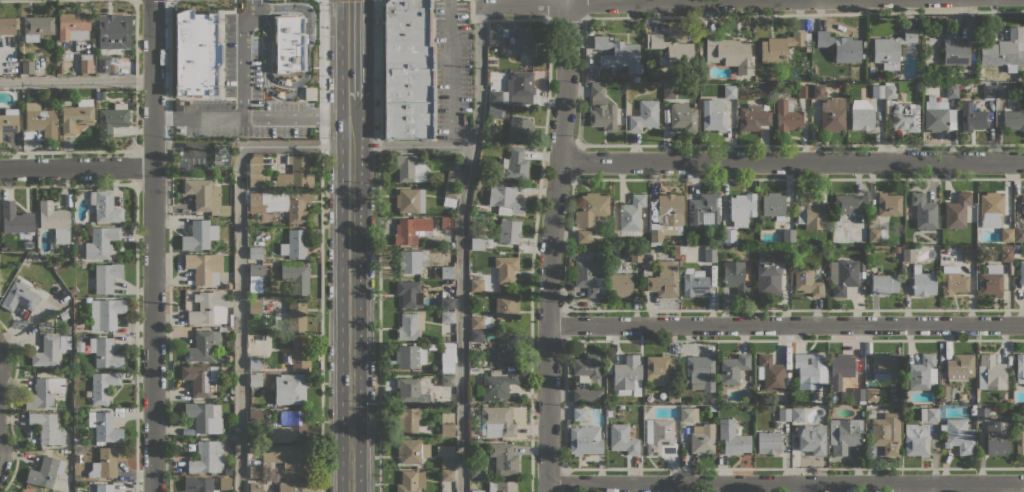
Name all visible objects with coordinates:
road: (9, 0)
road: (672, 3)
road: (472, 5)
building: (304, 18)
building: (7, 25)
building: (73, 25)
building: (37, 27)
building: (113, 30)
building: (513, 38)
road: (135, 39)
building: (288, 43)
building: (781, 46)
building: (839, 46)
building: (953, 48)
road: (350, 49)
building: (890, 49)
building: (671, 50)
building: (1005, 50)
building: (303, 52)
building: (729, 52)
building: (195, 53)
building: (618, 53)
road: (242, 56)
road: (168, 58)
building: (86, 63)
building: (103, 65)
building: (27, 66)
building: (59, 69)
road: (306, 70)
building: (407, 70)
road: (450, 72)
road: (76, 80)
building: (521, 83)
building: (951, 89)
building: (668, 90)
building: (988, 90)
building: (729, 91)
building: (803, 91)
building: (817, 91)
building: (877, 91)
building: (1000, 91)
building: (309, 92)
building: (101, 95)
road: (276, 95)
building: (53, 96)
building: (494, 96)
building: (765, 106)
building: (600, 109)
building: (497, 111)
building: (899, 111)
building: (713, 114)
building: (832, 114)
building: (861, 114)
building: (76, 115)
building: (644, 115)
building: (682, 115)
building: (938, 115)
building: (787, 116)
building: (972, 116)
road: (251, 117)
building: (752, 117)
building: (1014, 117)
building: (112, 119)
building: (8, 120)
building: (40, 120)
building: (519, 129)
road: (178, 144)
road: (791, 161)
building: (513, 164)
road: (76, 167)
building: (411, 168)
building: (253, 169)
building: (294, 172)
building: (453, 176)
building: (205, 196)
building: (449, 196)
building: (504, 199)
building: (409, 200)
road: (240, 203)
building: (281, 204)
building: (888, 204)
building: (1022, 204)
building: (773, 205)
building: (848, 205)
building: (103, 207)
building: (590, 208)
building: (741, 208)
building: (706, 209)
building: (990, 210)
building: (923, 211)
building: (958, 211)
building: (809, 212)
building: (631, 215)
building: (667, 217)
building: (16, 221)
building: (55, 221)
building: (446, 222)
building: (411, 230)
building: (509, 231)
building: (876, 234)
building: (199, 235)
building: (728, 235)
building: (788, 235)
building: (1018, 235)
building: (583, 236)
building: (1006, 236)
building: (77, 239)
building: (100, 242)
building: (480, 242)
building: (294, 244)
road: (321, 245)
road: (379, 245)
road: (551, 245)
road: (152, 246)
road: (461, 248)
building: (896, 249)
building: (1015, 249)
building: (254, 252)
building: (676, 252)
building: (710, 253)
building: (1022, 253)
building: (908, 254)
building: (969, 254)
building: (636, 255)
building: (784, 255)
building: (1006, 255)
building: (681, 257)
building: (410, 260)
building: (83, 264)
building: (610, 266)
building: (203, 267)
building: (505, 268)
building: (254, 270)
building: (444, 272)
building: (1021, 274)
building: (296, 275)
building: (106, 276)
building: (841, 276)
building: (735, 277)
building: (588, 278)
building: (767, 278)
building: (664, 279)
building: (952, 280)
building: (990, 280)
building: (807, 281)
building: (922, 281)
building: (694, 282)
building: (478, 284)
building: (884, 284)
building: (619, 285)
building: (1, 287)
building: (72, 290)
building: (409, 294)
road: (350, 295)
building: (20, 296)
building: (446, 303)
building: (255, 306)
building: (506, 306)
building: (208, 308)
building: (104, 312)
building: (63, 315)
building: (296, 316)
building: (446, 317)
building: (480, 321)
building: (408, 326)
road: (786, 326)
building: (224, 328)
building: (476, 336)
building: (202, 346)
building: (505, 350)
building: (46, 351)
building: (101, 352)
building: (447, 353)
building: (296, 354)
building: (409, 356)
building: (254, 361)
building: (959, 366)
building: (446, 367)
building: (586, 367)
building: (885, 367)
building: (732, 368)
building: (1019, 368)
building: (656, 369)
building: (840, 369)
building: (608, 370)
building: (809, 370)
building: (700, 372)
building: (770, 372)
building: (920, 372)
building: (990, 374)
building: (627, 375)
building: (197, 380)
building: (255, 380)
building: (446, 380)
building: (498, 383)
building: (102, 386)
building: (289, 388)
building: (411, 390)
building: (44, 392)
building: (943, 392)
building: (673, 394)
building: (858, 394)
building: (871, 394)
building: (587, 395)
building: (1008, 400)
building: (75, 403)
building: (579, 414)
building: (687, 414)
building: (784, 414)
building: (797, 414)
building: (928, 414)
building: (982, 414)
building: (255, 415)
building: (204, 416)
building: (408, 419)
building: (497, 421)
building: (447, 424)
building: (104, 427)
building: (288, 427)
building: (46, 428)
building: (229, 428)
building: (886, 433)
building: (844, 434)
building: (957, 435)
building: (660, 437)
building: (732, 437)
building: (997, 437)
building: (623, 438)
building: (701, 439)
building: (812, 439)
building: (916, 439)
building: (584, 440)
building: (768, 442)
building: (1019, 443)
building: (411, 451)
building: (445, 455)
building: (207, 457)
building: (288, 458)
building: (503, 458)
building: (107, 461)
building: (45, 471)
building: (255, 471)
building: (476, 471)
building: (447, 475)
building: (410, 481)
building: (225, 483)
building: (198, 484)
road: (786, 484)
building: (501, 486)
building: (255, 487)
building: (293, 487)
building: (100, 488)
building: (23, 490)
building: (477, 491)

